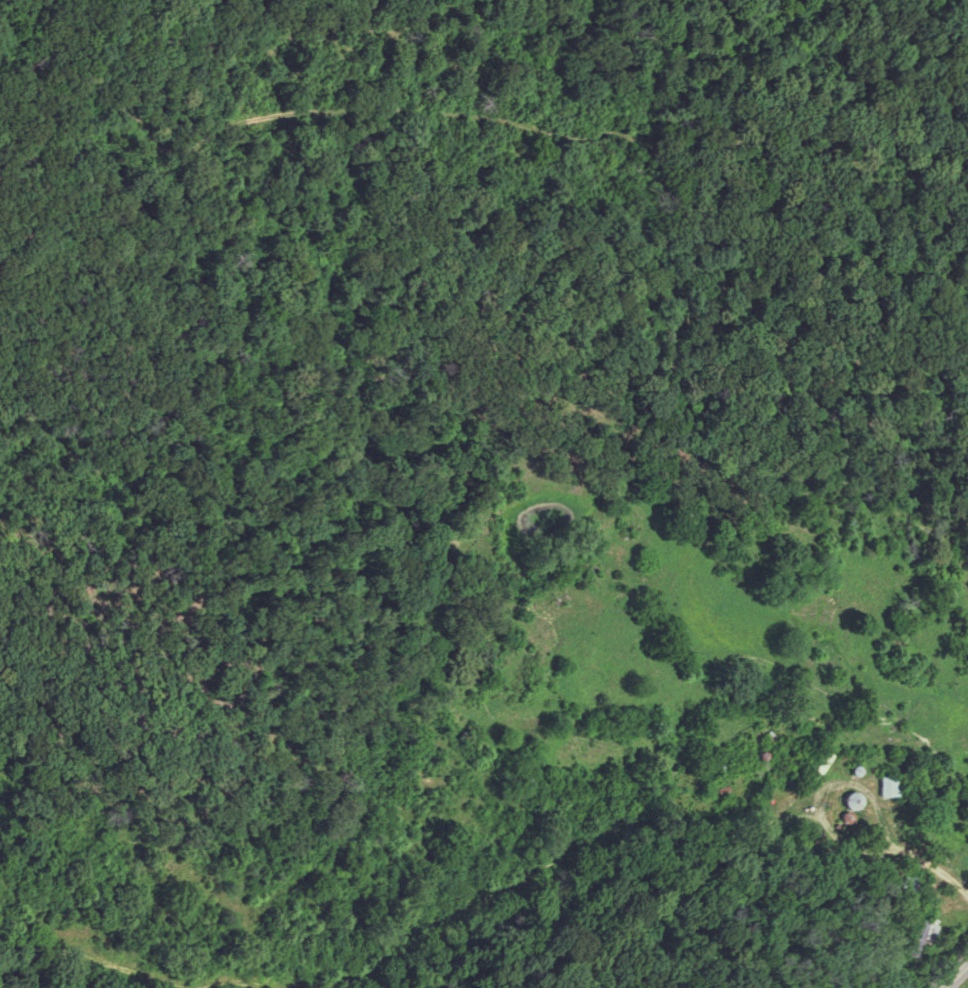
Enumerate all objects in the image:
building: (812, 765)
building: (885, 785)
building: (847, 800)
building: (895, 877)
building: (917, 940)
road: (954, 973)

